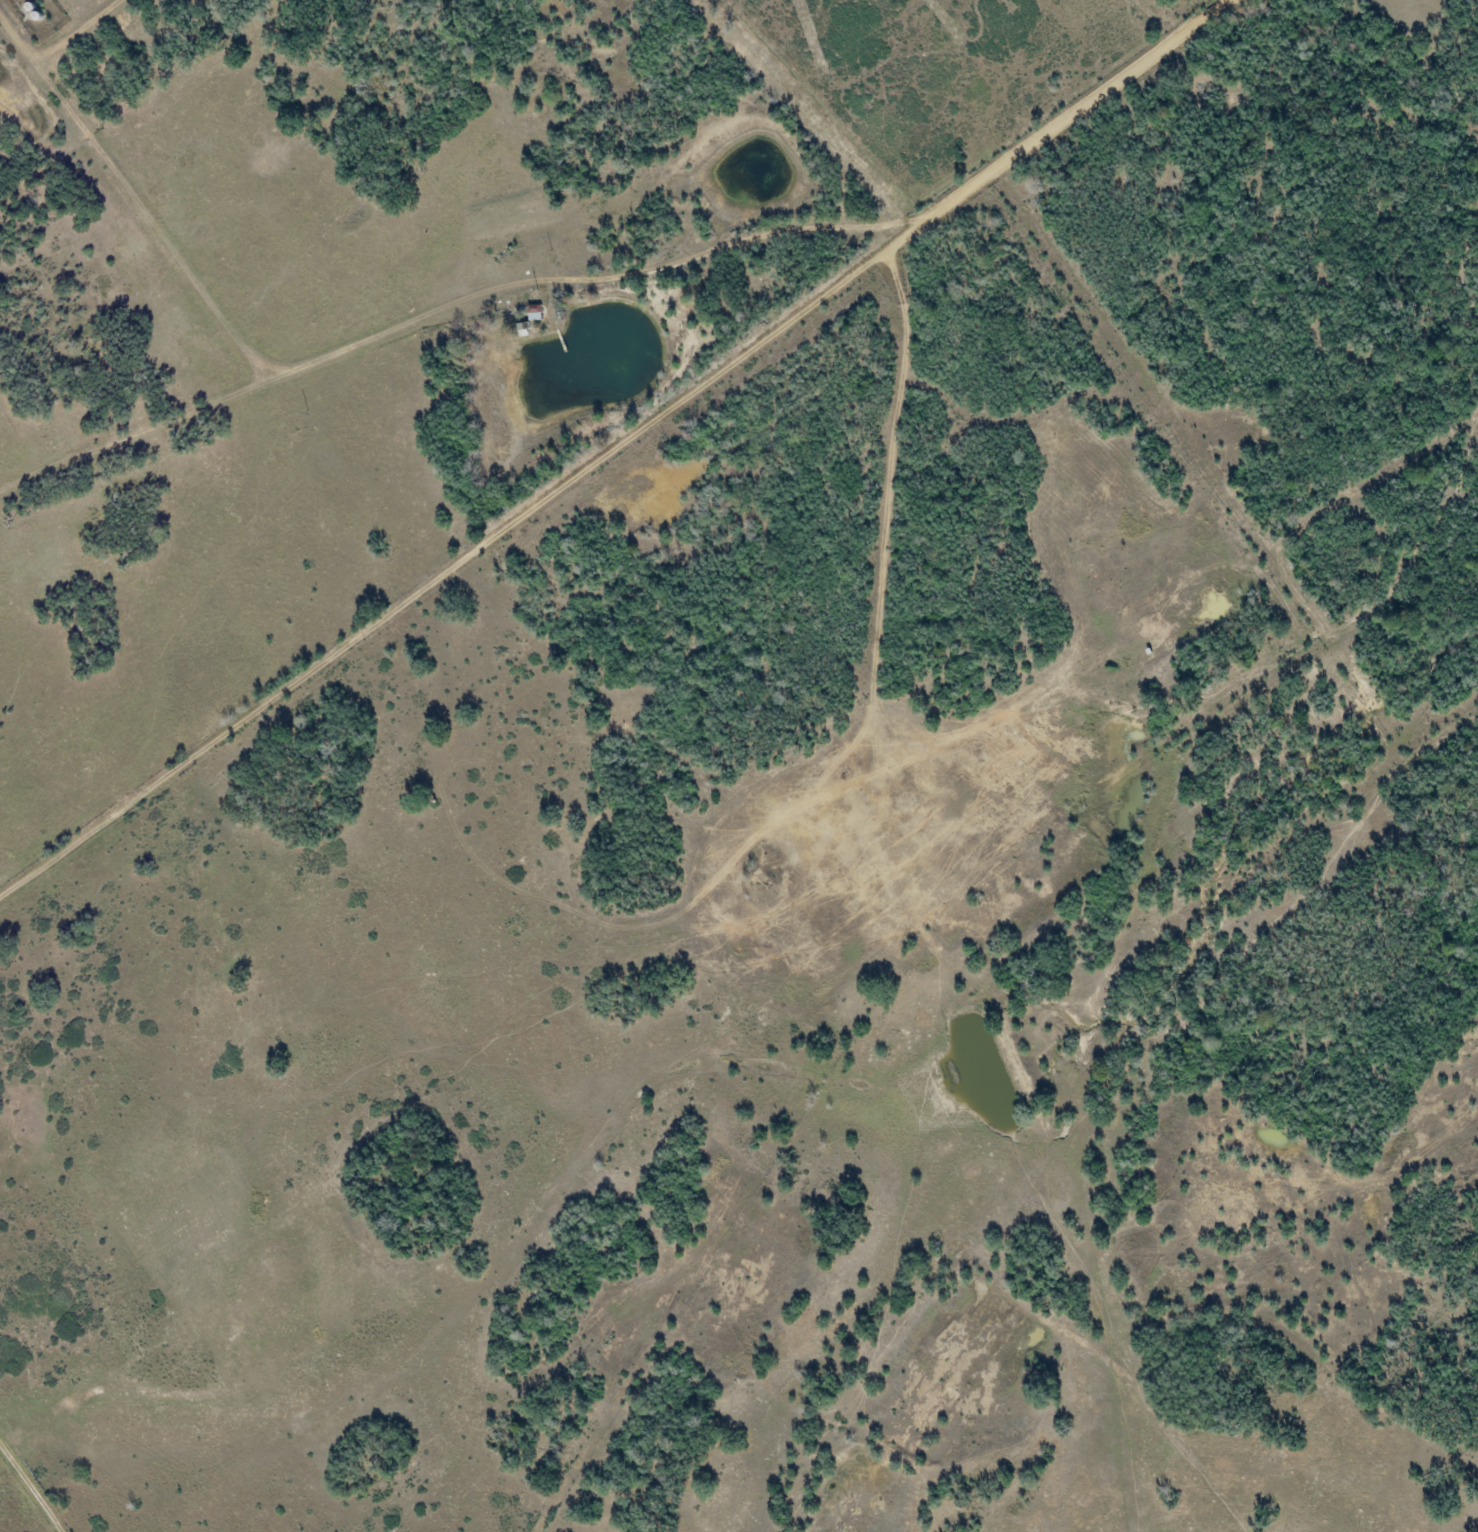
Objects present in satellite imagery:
road: (818, 130)
road: (794, 316)
road: (880, 550)
road: (180, 763)
road: (34, 1483)

